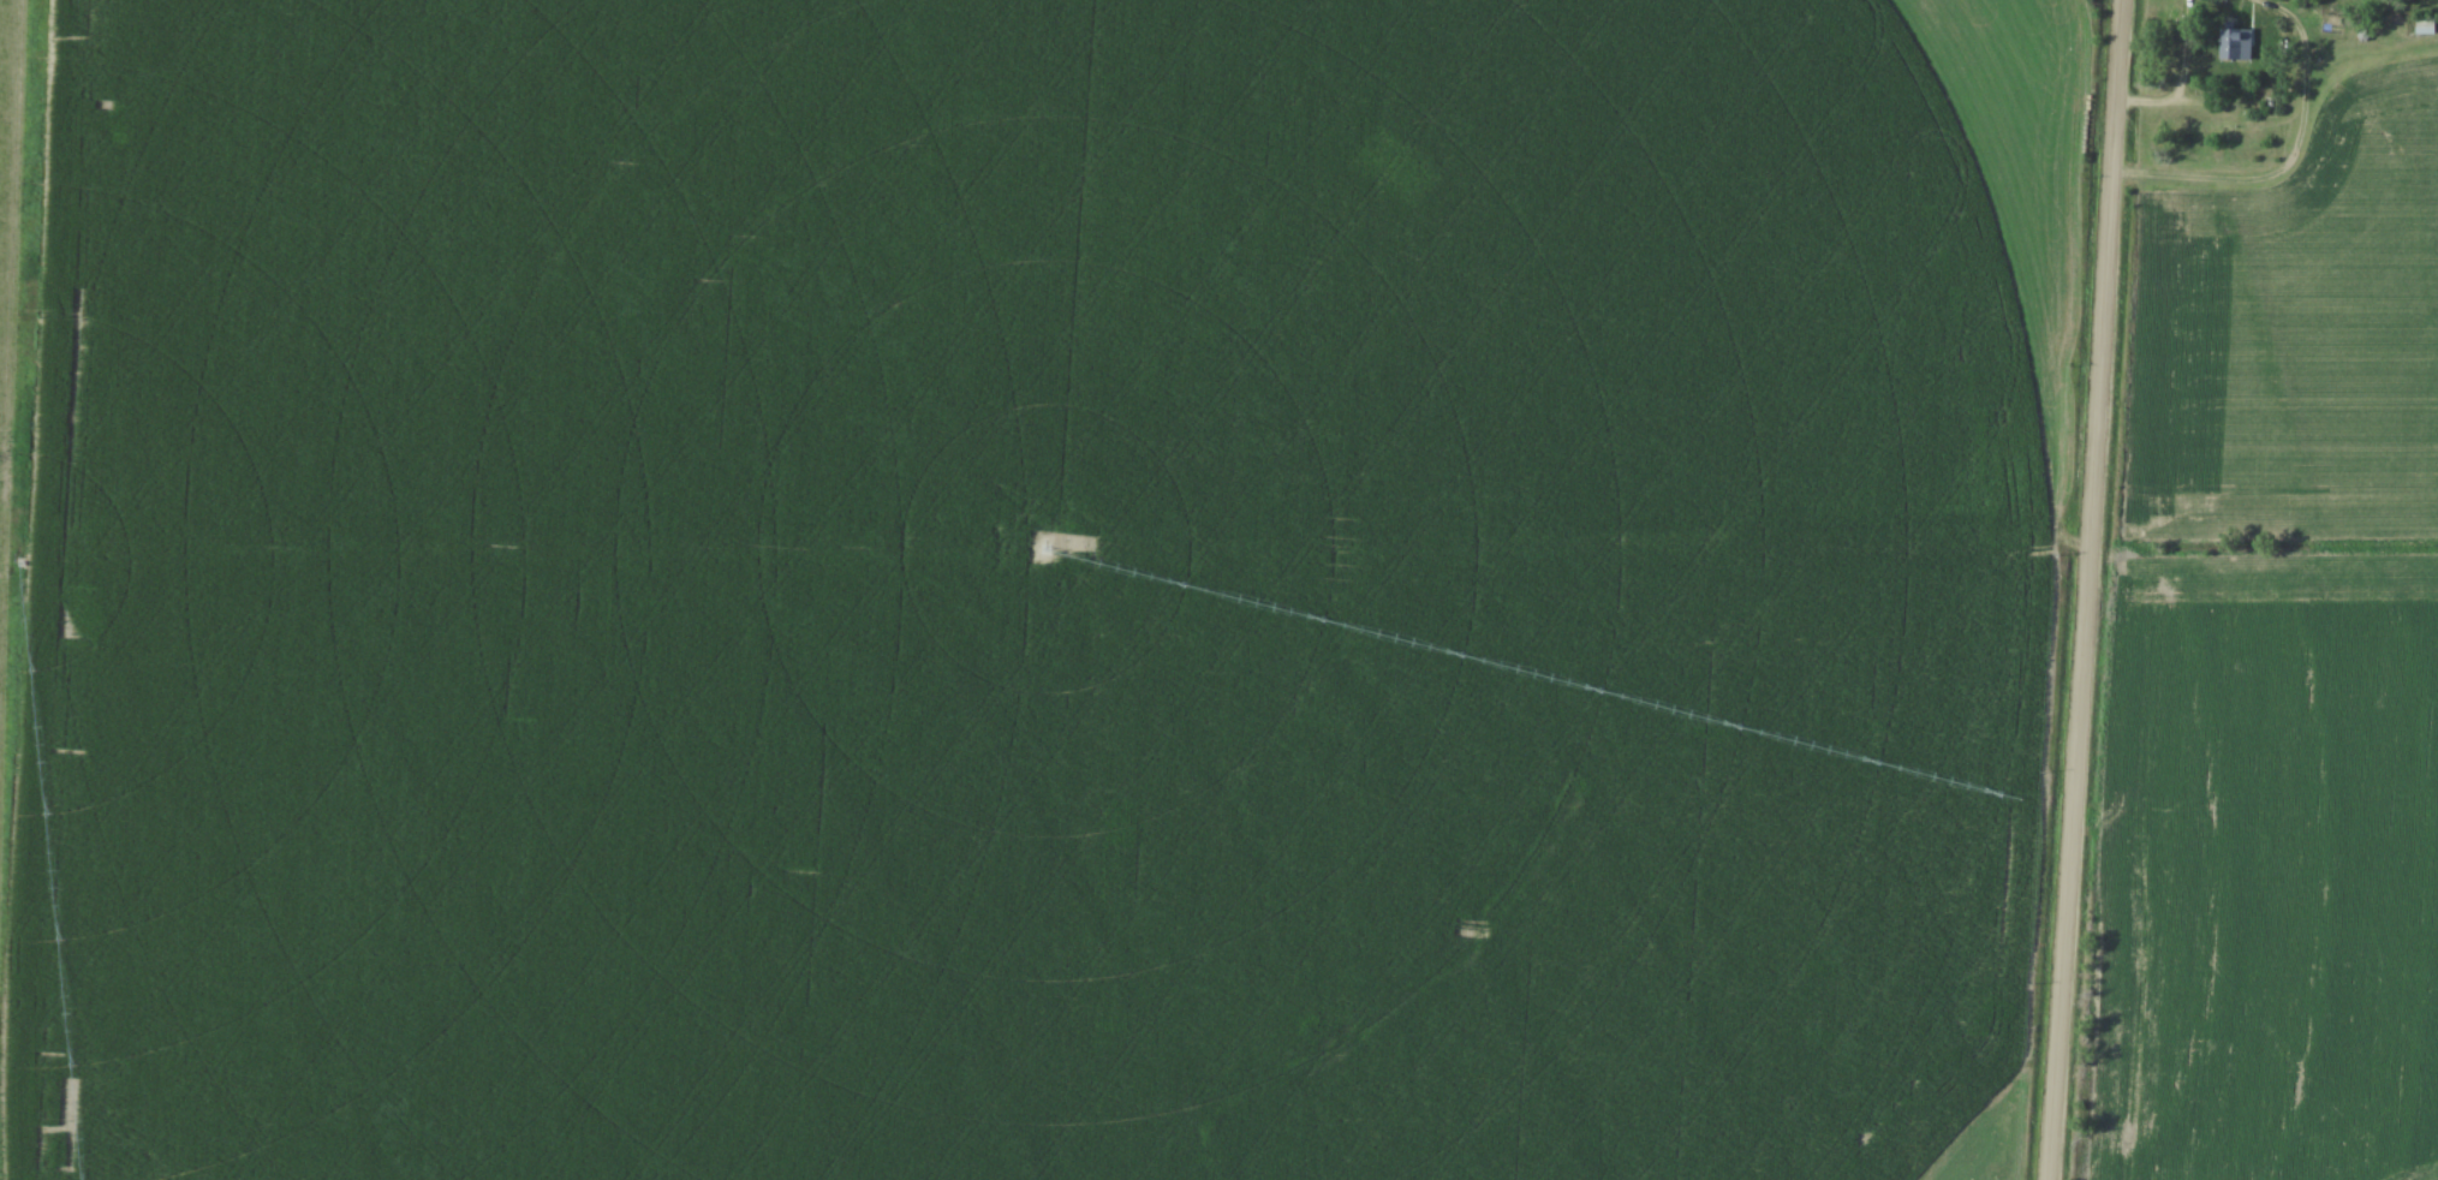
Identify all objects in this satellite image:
building: (2424, 28)
building: (2230, 46)
road: (2228, 106)
road: (2079, 590)

